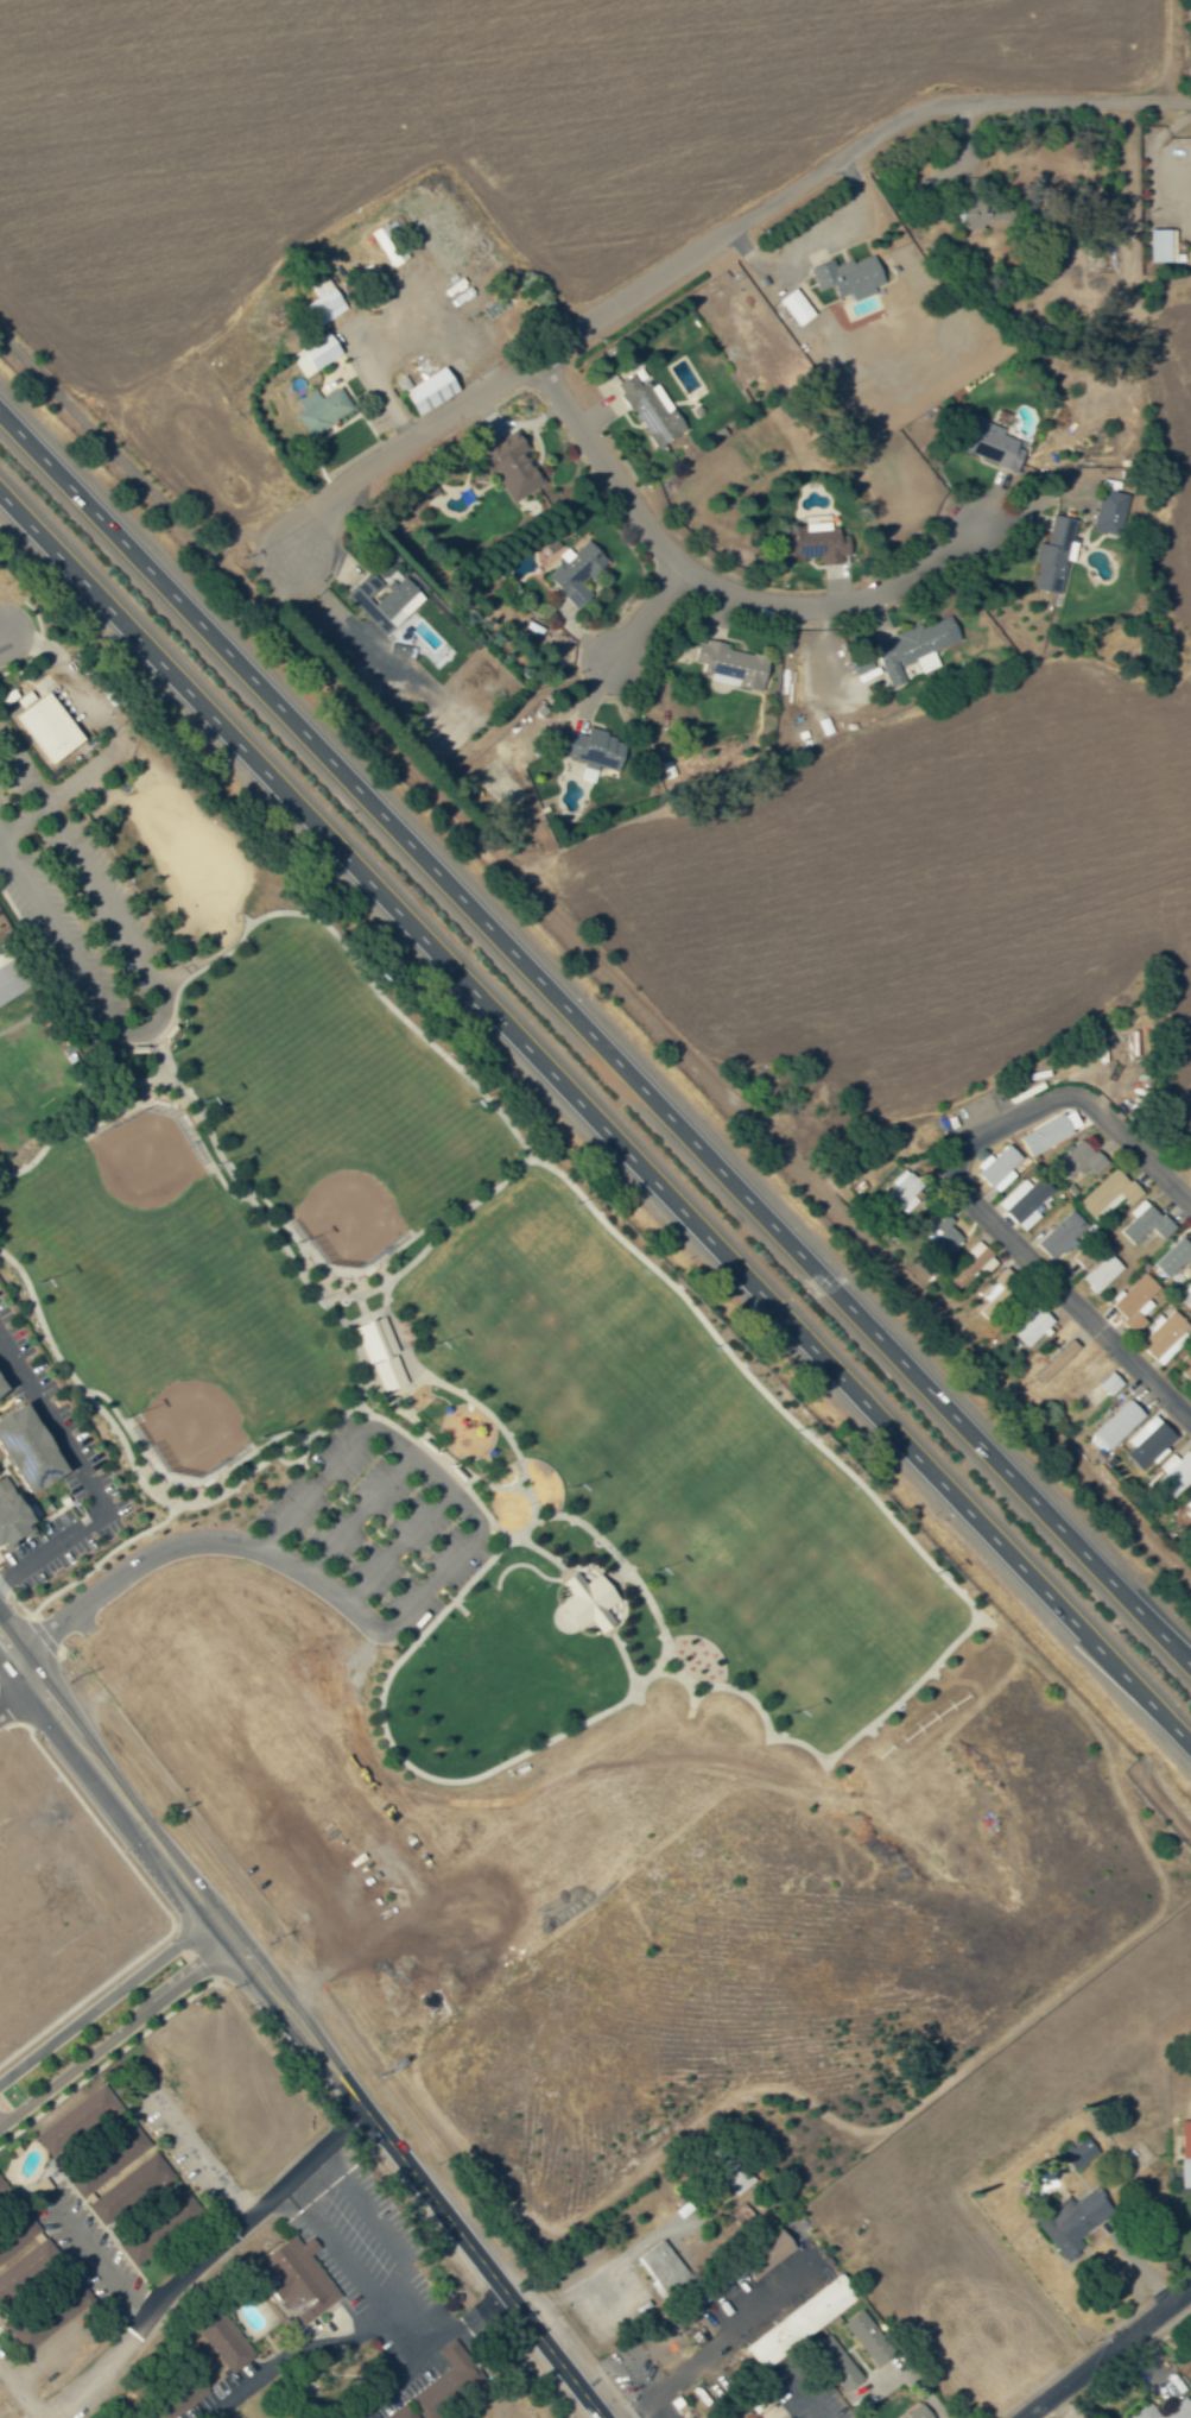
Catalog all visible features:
road: (1165, 50)
building: (992, 214)
building: (965, 216)
road: (716, 244)
building: (388, 245)
building: (1158, 245)
building: (844, 279)
building: (327, 303)
building: (793, 307)
road: (401, 347)
building: (318, 354)
building: (433, 390)
building: (324, 409)
building: (654, 410)
building: (986, 443)
building: (515, 468)
building: (1107, 512)
building: (811, 541)
building: (1053, 554)
building: (578, 572)
road: (704, 595)
building: (386, 601)
road: (644, 626)
road: (0, 633)
road: (37, 645)
building: (910, 650)
building: (730, 665)
building: (51, 727)
building: (503, 771)
road: (51, 797)
road: (594, 955)
road: (211, 962)
road: (157, 989)
building: (12, 992)
road: (64, 997)
road: (595, 1049)
road: (1076, 1099)
road: (77, 1118)
road: (595, 1124)
park: (355, 1157)
building: (1078, 1161)
building: (996, 1167)
building: (1190, 1168)
building: (899, 1194)
building: (1106, 1195)
building: (1026, 1200)
park: (129, 1217)
building: (1144, 1225)
building: (940, 1233)
building: (1058, 1235)
road: (430, 1242)
building: (1081, 1257)
building: (1173, 1258)
building: (971, 1262)
building: (1100, 1275)
building: (995, 1287)
road: (346, 1296)
building: (1132, 1301)
road: (1070, 1302)
road: (359, 1305)
building: (1027, 1324)
building: (1160, 1336)
park: (570, 1340)
building: (378, 1353)
building: (1185, 1366)
park: (202, 1368)
building: (1108, 1384)
road: (493, 1420)
building: (1116, 1425)
road: (419, 1429)
building: (19, 1450)
road: (416, 1464)
road: (134, 1473)
road: (87, 1476)
building: (1173, 1476)
building: (1187, 1509)
building: (7, 1514)
road: (527, 1527)
road: (336, 1534)
road: (394, 1546)
park: (496, 1548)
road: (126, 1568)
park: (792, 1571)
road: (85, 1572)
building: (583, 1601)
road: (40, 1635)
road: (18, 1696)
road: (756, 1706)
road: (8, 1710)
road: (157, 1904)
road: (195, 1951)
road: (106, 2000)
road: (318, 2007)
road: (298, 2026)
road: (118, 2034)
road: (272, 2056)
road: (110, 2057)
building: (1075, 2153)
building: (1184, 2153)
building: (107, 2159)
building: (724, 2168)
road: (306, 2176)
building: (127, 2190)
road: (308, 2211)
building: (1071, 2220)
parking lot: (369, 2253)
building: (760, 2254)
road: (197, 2255)
building: (660, 2266)
building: (294, 2278)
building: (49, 2313)
road: (457, 2322)
building: (797, 2322)
building: (221, 2338)
building: (866, 2338)
road: (343, 2340)
road: (718, 2343)
road: (1109, 2355)
building: (1190, 2359)
building: (834, 2363)
road: (1125, 2366)
road: (614, 2389)
building: (433, 2393)
building: (172, 2398)
road: (810, 2404)
building: (1163, 2411)
building: (401, 2413)
building: (917, 2413)
building: (745, 2414)

